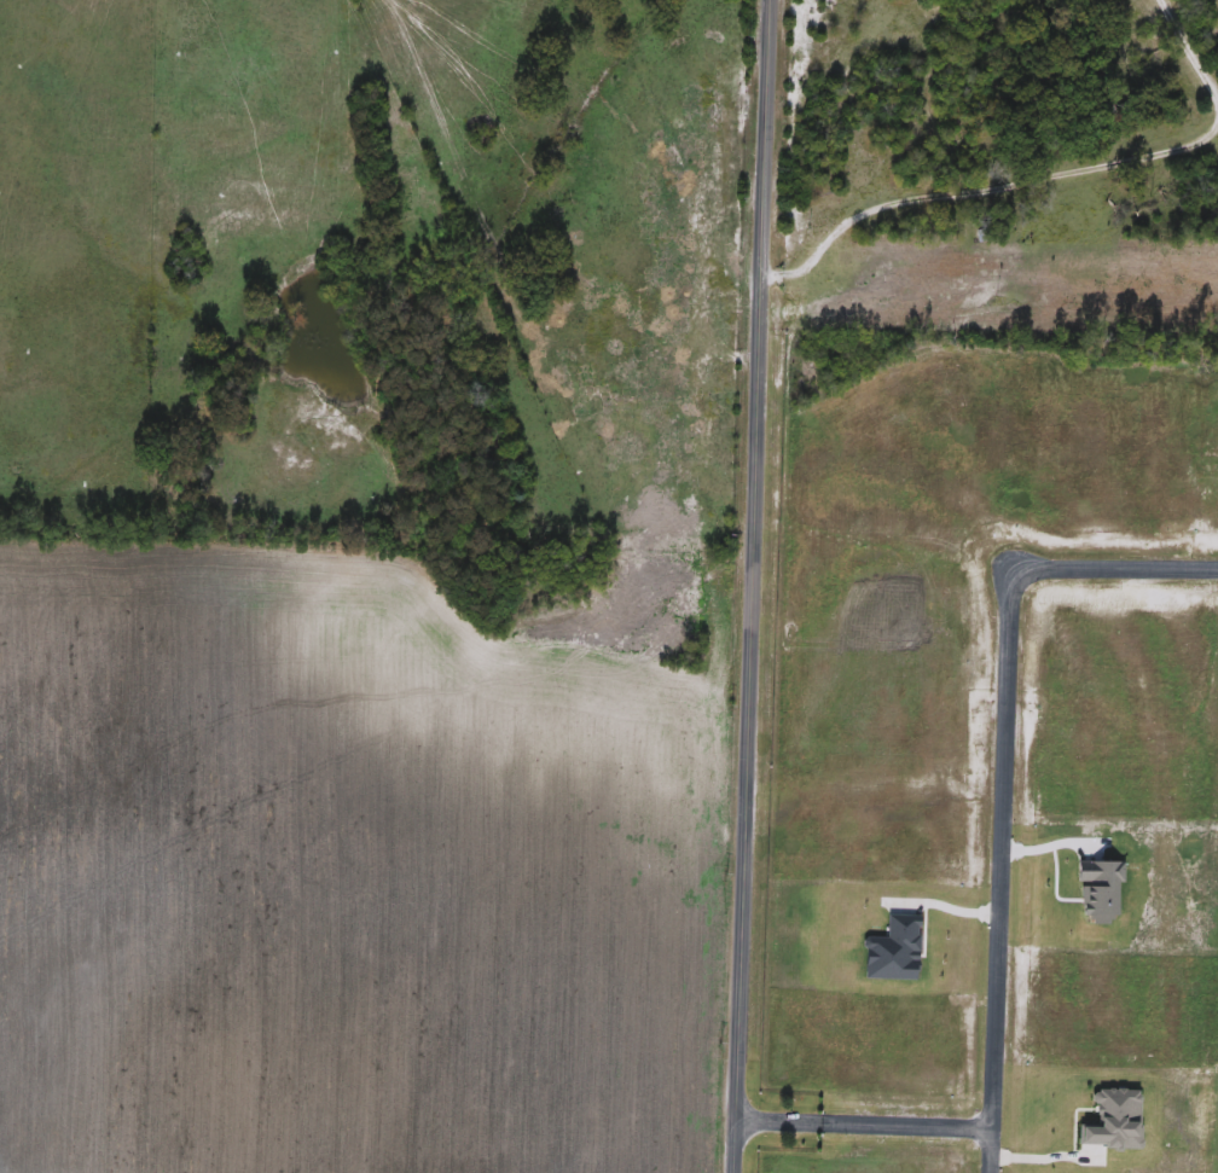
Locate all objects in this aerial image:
road: (1187, 57)
road: (982, 185)
road: (1120, 573)
road: (752, 586)
road: (998, 872)
road: (941, 906)
road: (862, 1128)
road: (1048, 1149)

